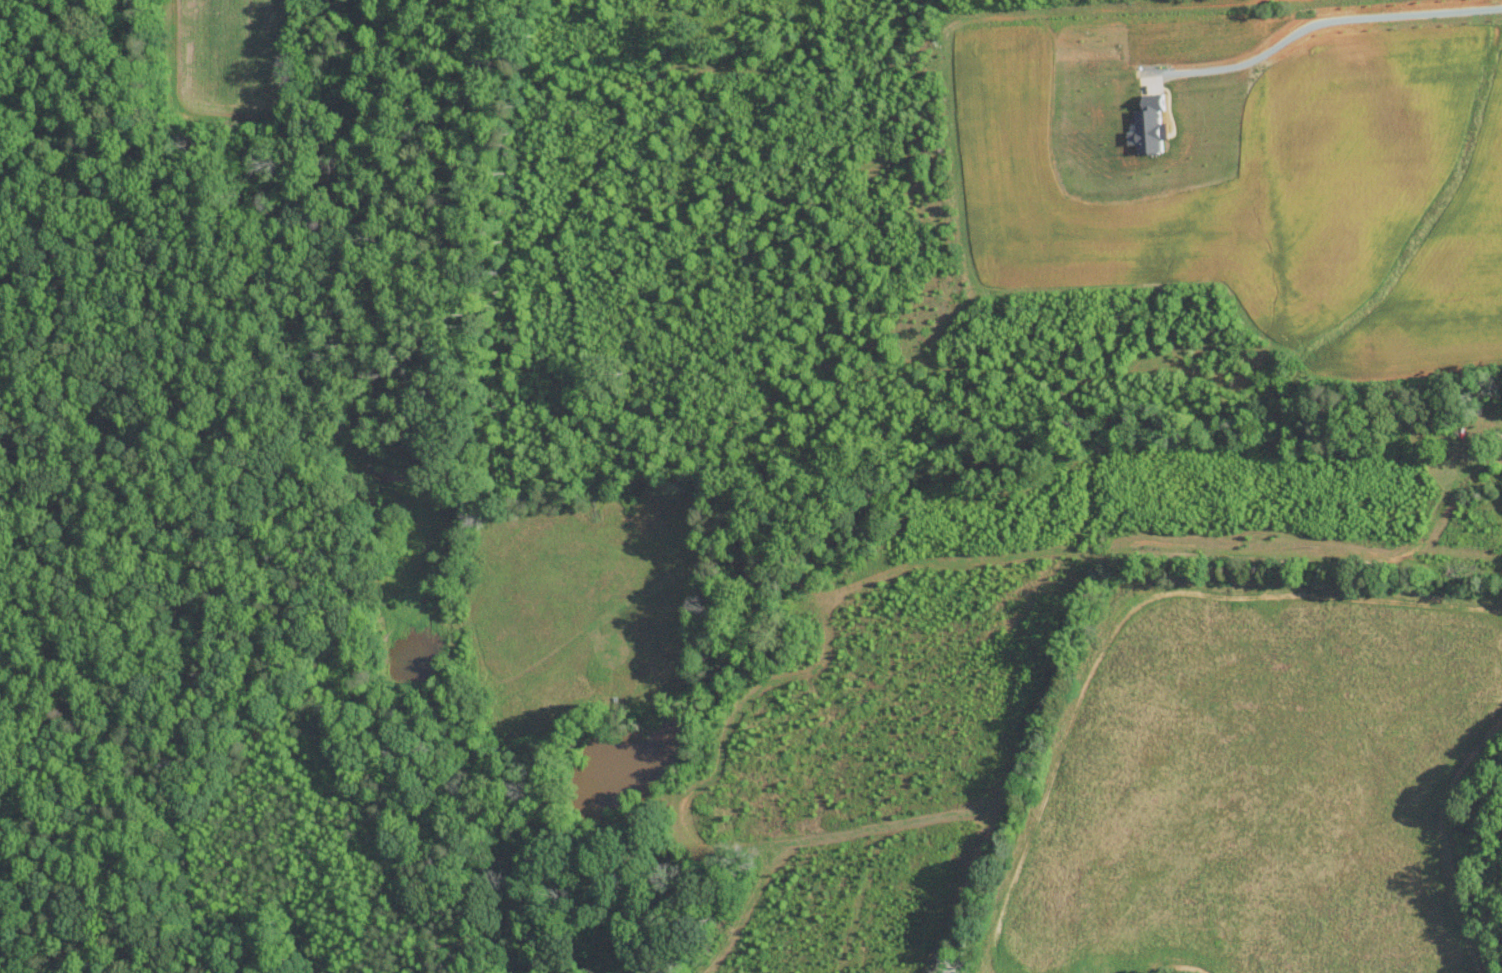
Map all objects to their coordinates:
road: (1327, 24)
building: (1146, 125)

